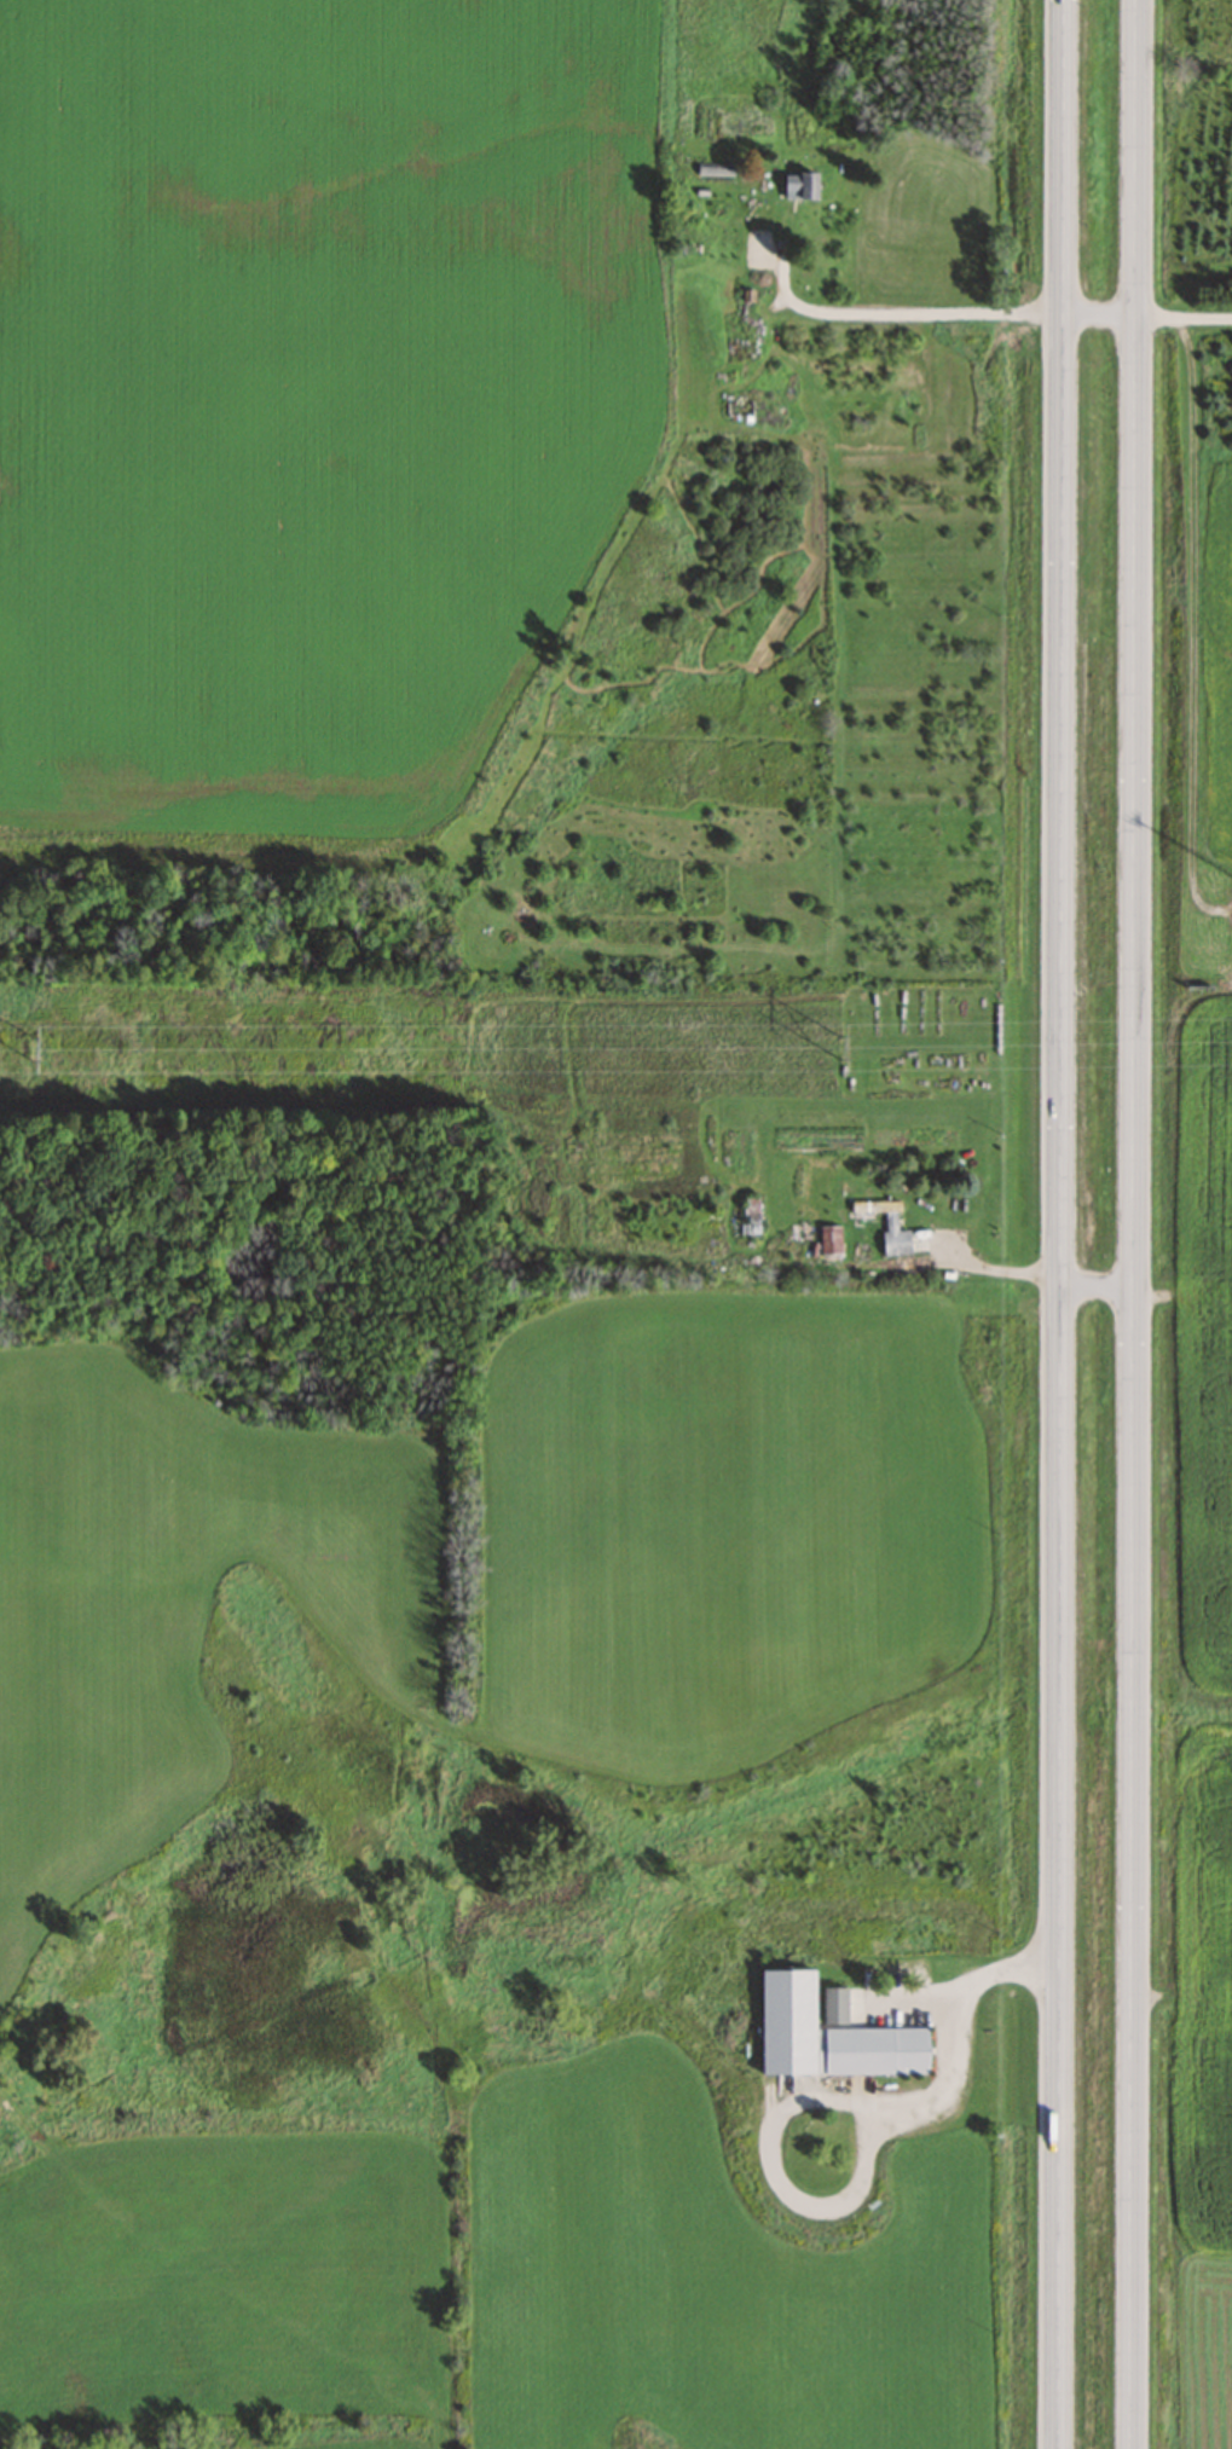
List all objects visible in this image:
building: (715, 168)
building: (800, 183)
power tower: (843, 1044)
power tower: (37, 1047)
building: (751, 1214)
building: (889, 1224)
road: (1062, 1224)
road: (1132, 1224)
building: (829, 1238)
building: (833, 2005)
building: (874, 2050)

